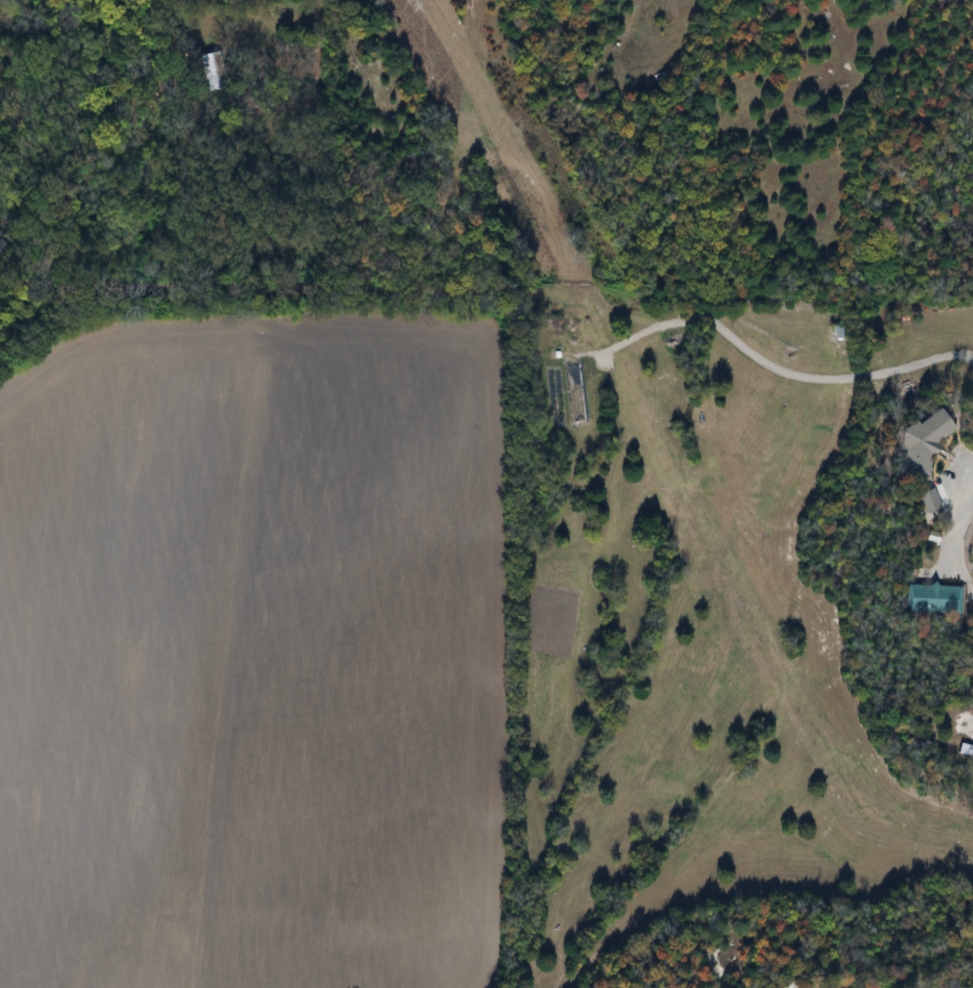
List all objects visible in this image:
building: (841, 341)
road: (788, 370)
building: (578, 410)
building: (928, 442)
road: (952, 522)
building: (936, 598)
building: (970, 749)

